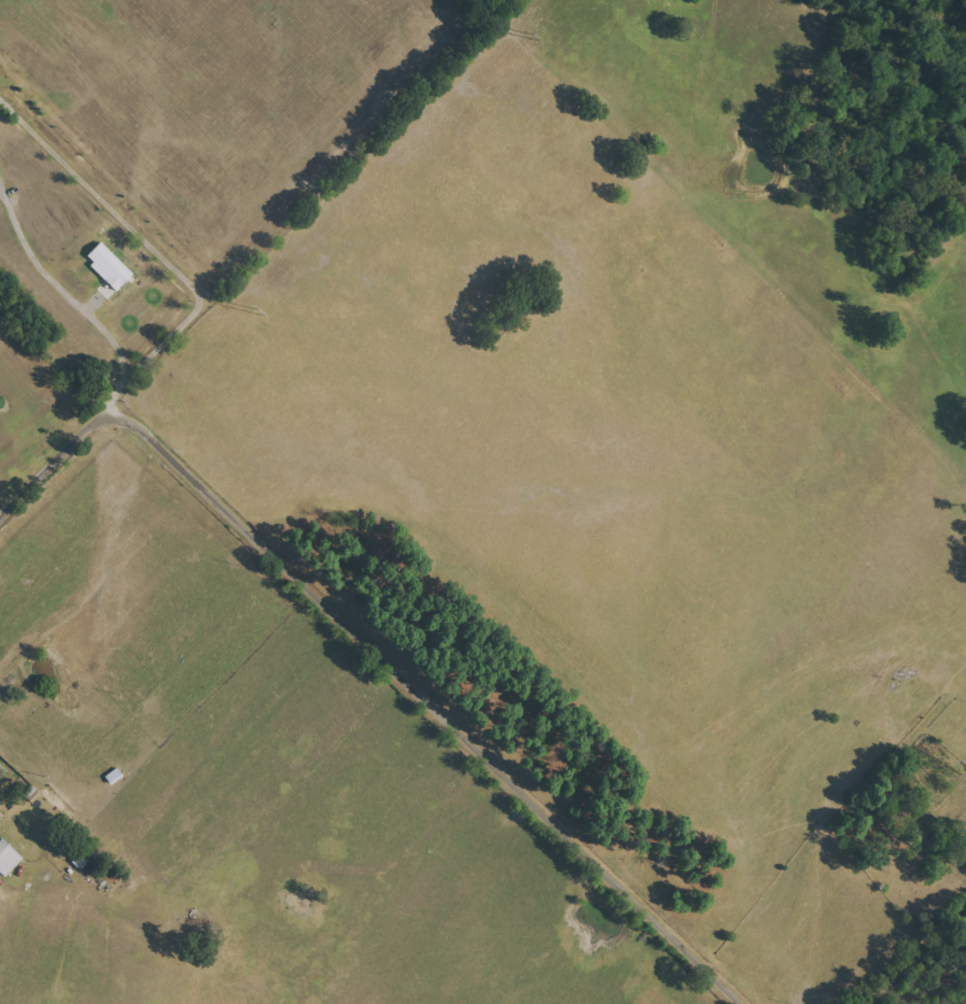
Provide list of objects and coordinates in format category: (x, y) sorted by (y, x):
road: (101, 194)
building: (109, 267)
road: (57, 285)
road: (147, 352)
road: (378, 655)
building: (8, 858)
road: (918, 956)

